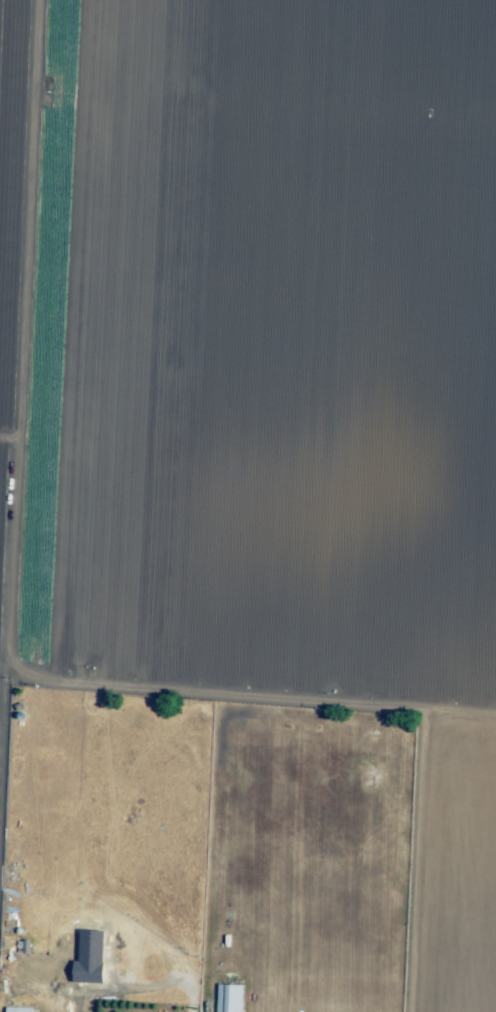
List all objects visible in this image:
crop: (263, 374)
building: (24, 949)
building: (230, 1000)
building: (24, 1009)

